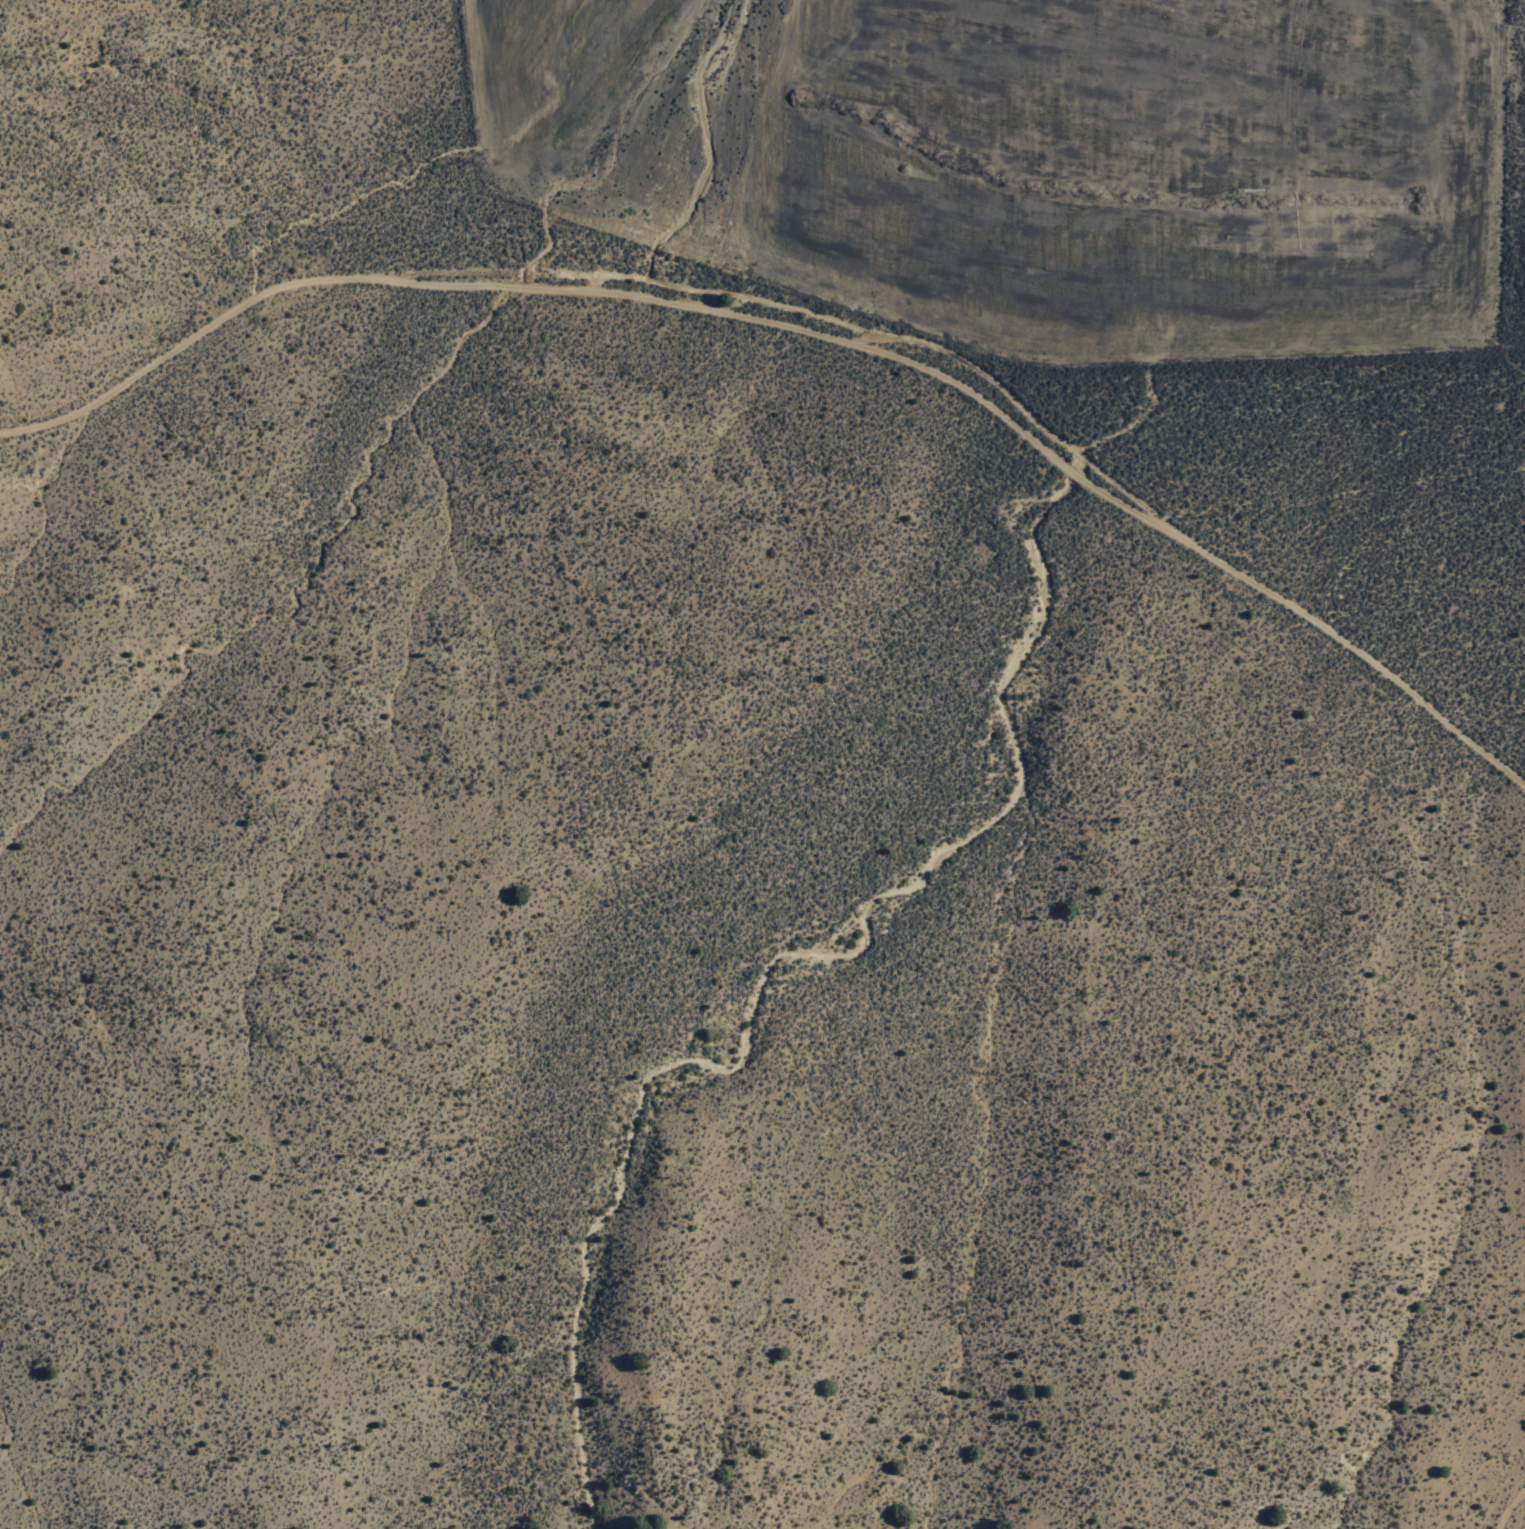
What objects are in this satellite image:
road: (790, 302)
road: (1504, 768)

